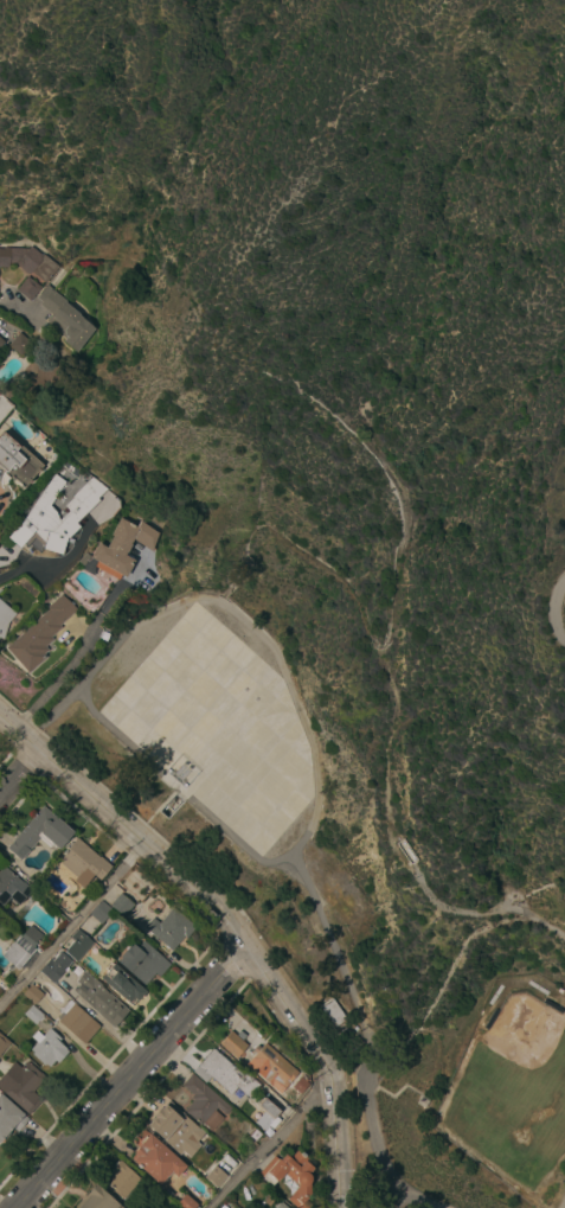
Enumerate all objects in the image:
building: (28, 261)
building: (28, 287)
road: (12, 301)
building: (66, 318)
building: (1, 341)
building: (20, 344)
building: (17, 460)
building: (56, 513)
building: (123, 545)
road: (7, 573)
road: (554, 609)
building: (4, 618)
building: (39, 633)
road: (72, 659)
road: (20, 774)
building: (39, 832)
building: (83, 862)
building: (12, 887)
building: (121, 905)
building: (101, 912)
road: (72, 925)
road: (231, 926)
building: (171, 927)
building: (78, 944)
building: (21, 947)
building: (143, 961)
building: (56, 966)
building: (122, 984)
building: (33, 993)
building: (99, 998)
building: (33, 1014)
building: (334, 1016)
building: (77, 1022)
building: (2, 1043)
building: (233, 1044)
building: (47, 1047)
building: (271, 1067)
building: (226, 1074)
road: (128, 1078)
building: (21, 1085)
park: (514, 1089)
building: (204, 1102)
building: (9, 1117)
building: (265, 1119)
building: (175, 1129)
road: (277, 1144)
building: (155, 1157)
building: (214, 1176)
building: (291, 1176)
building: (122, 1180)
building: (96, 1200)
building: (186, 1202)

